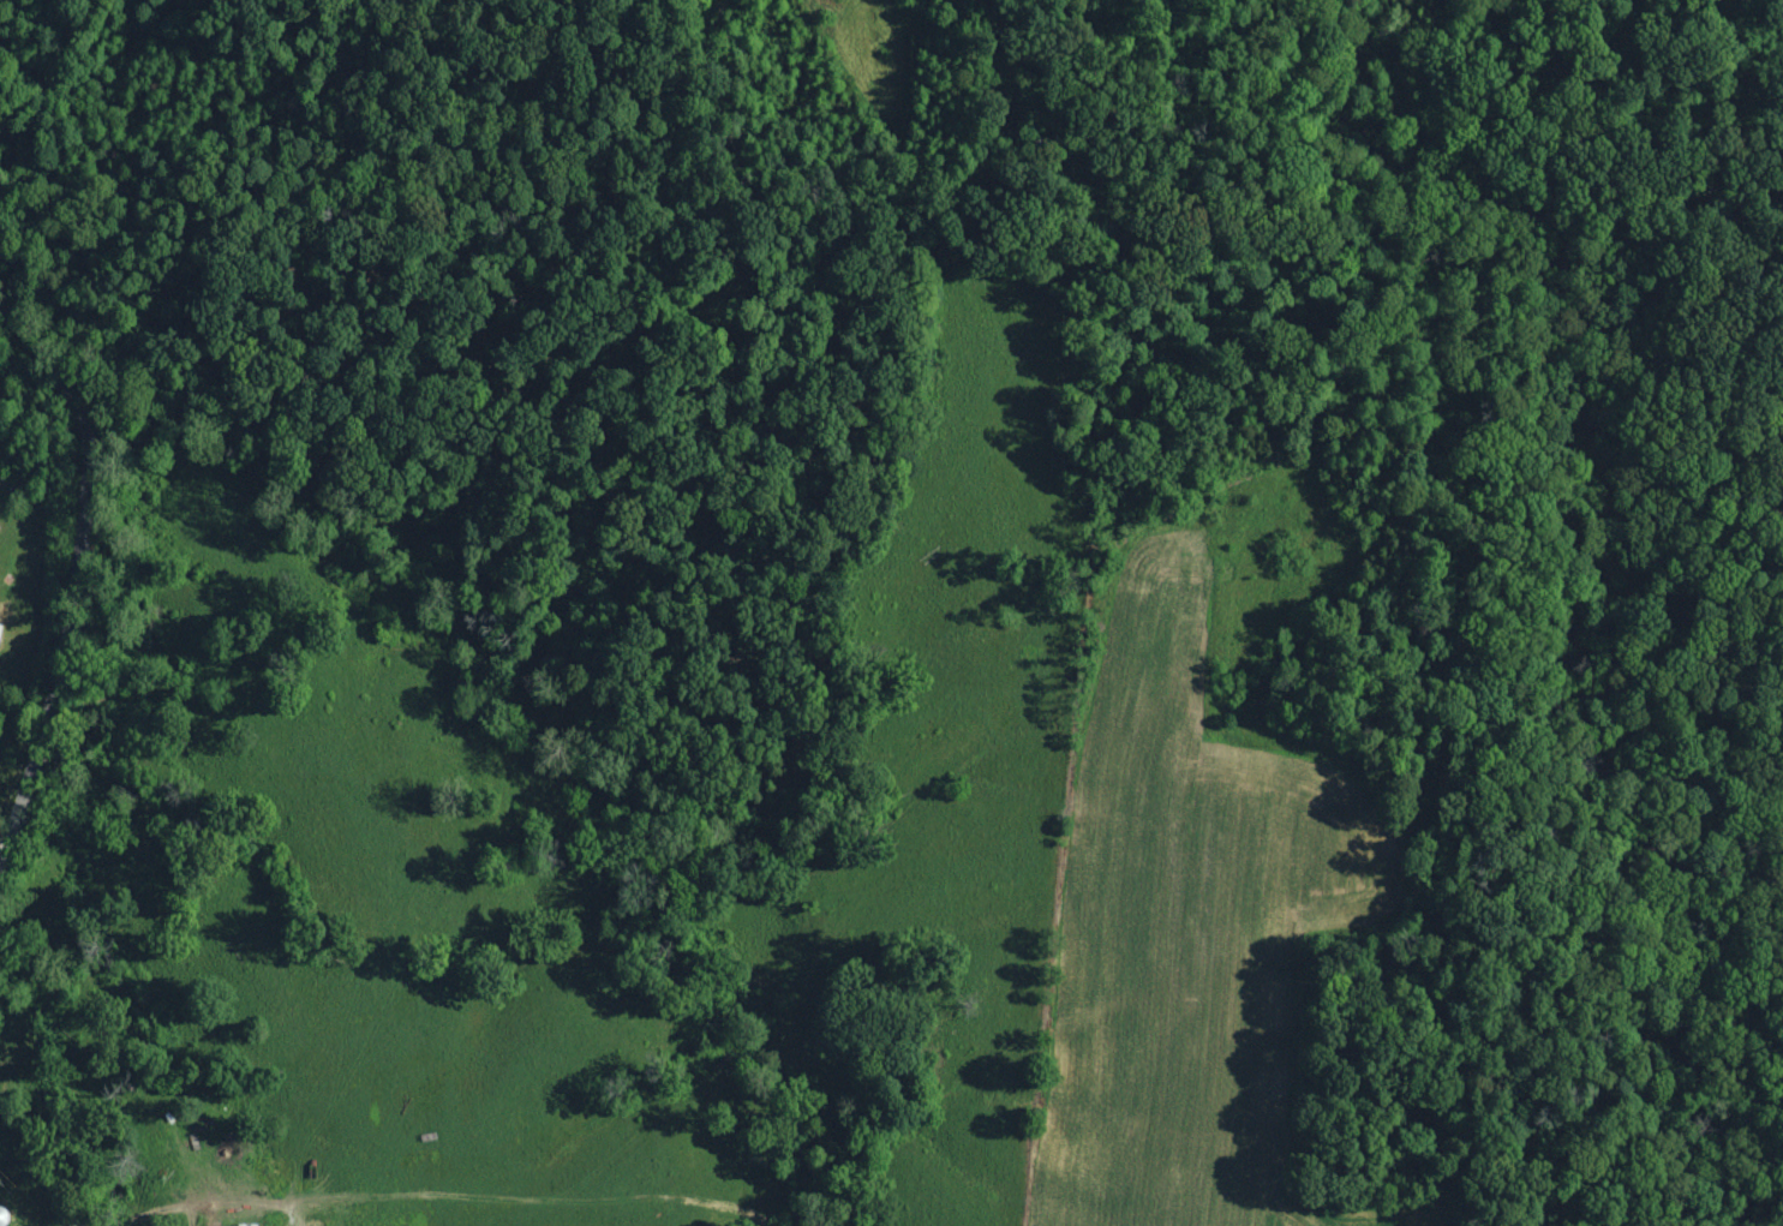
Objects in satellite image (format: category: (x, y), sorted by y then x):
road: (73, 568)
building: (1, 634)
road: (2, 847)

